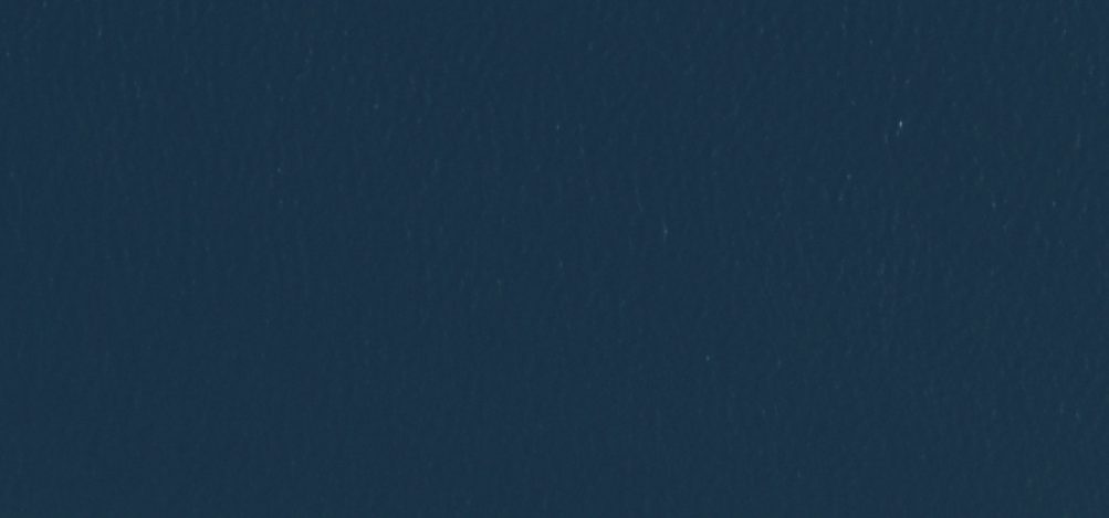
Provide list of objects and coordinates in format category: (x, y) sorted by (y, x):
river: (1008, 28)

